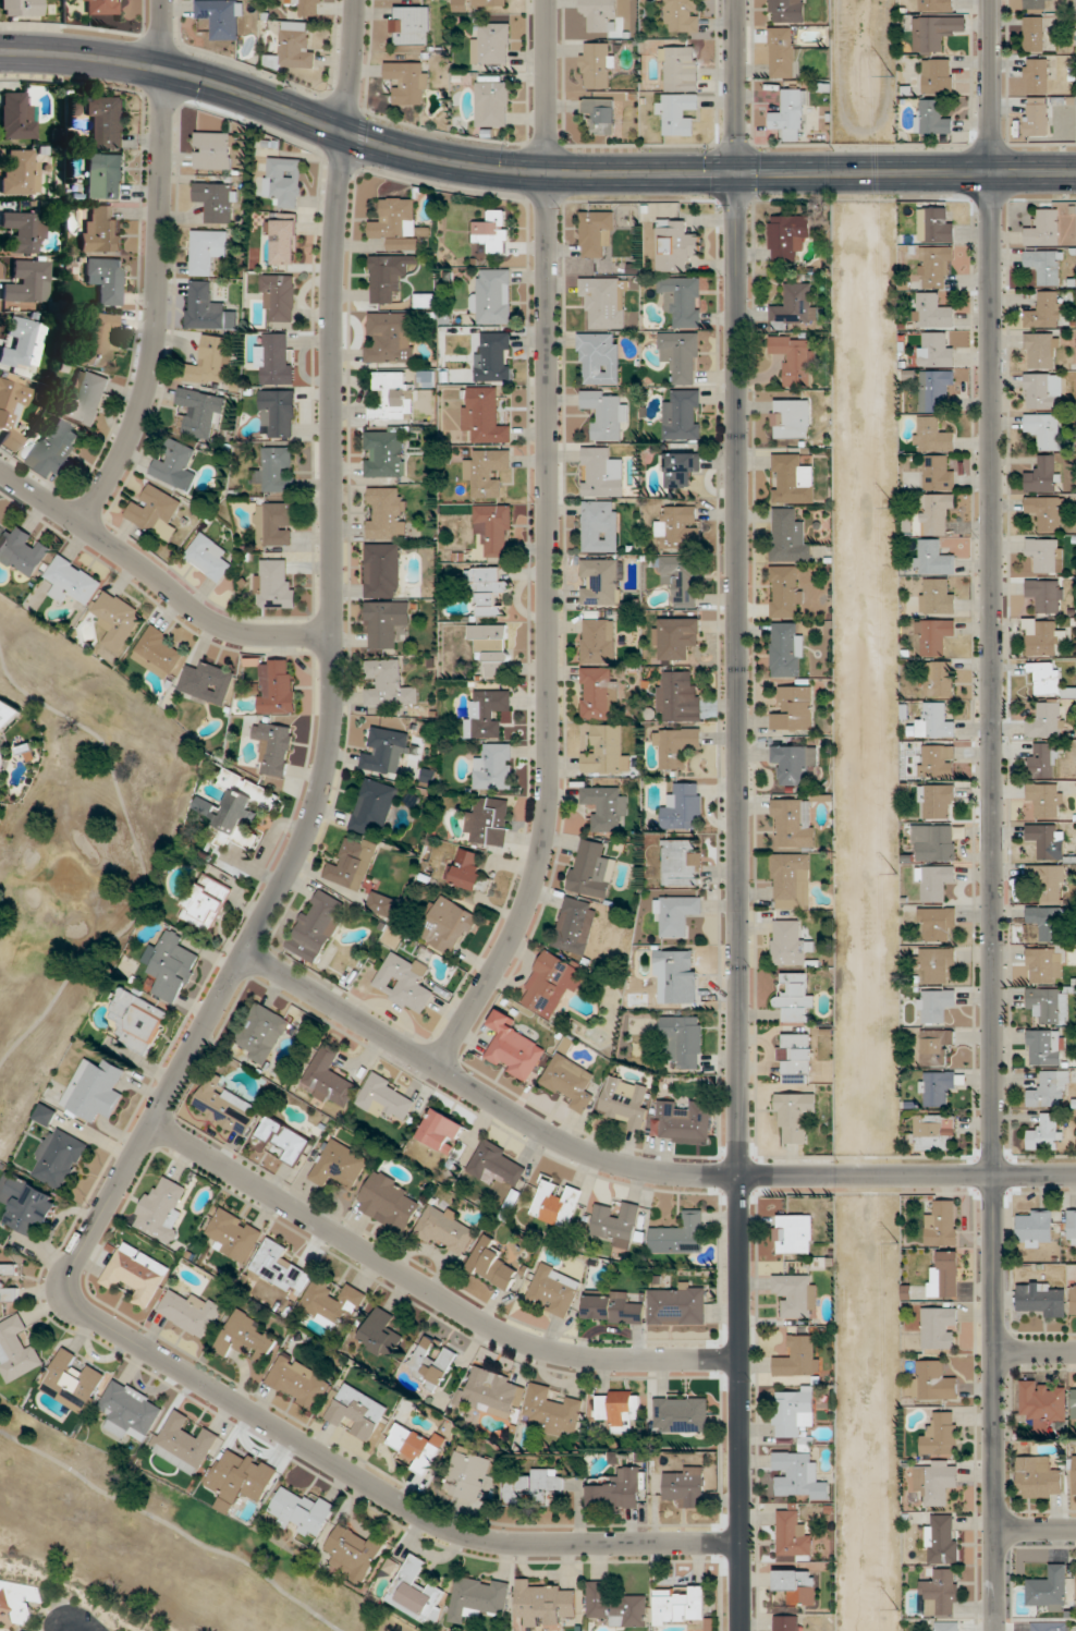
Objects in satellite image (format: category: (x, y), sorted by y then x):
building: (491, 2)
building: (933, 4)
building: (1034, 4)
building: (97, 7)
building: (307, 7)
building: (22, 8)
building: (787, 10)
building: (600, 14)
building: (682, 15)
building: (221, 17)
building: (411, 24)
building: (934, 33)
building: (1034, 33)
building: (491, 44)
building: (293, 47)
building: (782, 51)
building: (598, 64)
building: (681, 66)
building: (938, 75)
building: (1036, 75)
building: (408, 81)
road: (736, 86)
building: (493, 104)
building: (678, 111)
building: (601, 113)
building: (791, 114)
building: (17, 115)
building: (1037, 115)
building: (933, 117)
building: (107, 120)
road: (363, 139)
building: (213, 149)
building: (22, 172)
road: (906, 172)
traffic signals: (737, 173)
building: (106, 175)
building: (283, 181)
building: (217, 200)
building: (398, 223)
building: (937, 223)
building: (1044, 228)
building: (25, 230)
building: (101, 231)
building: (493, 231)
building: (597, 232)
building: (283, 236)
building: (787, 236)
building: (676, 245)
building: (207, 249)
building: (936, 265)
building: (1046, 267)
road: (157, 269)
building: (388, 275)
building: (106, 279)
building: (28, 281)
building: (279, 295)
building: (493, 296)
building: (425, 299)
building: (682, 300)
building: (604, 301)
building: (204, 305)
building: (795, 305)
building: (1046, 309)
building: (933, 311)
building: (389, 337)
building: (99, 339)
building: (21, 343)
building: (936, 349)
building: (1041, 350)
building: (682, 355)
building: (494, 357)
building: (599, 357)
building: (795, 358)
building: (209, 361)
building: (936, 389)
building: (1043, 390)
building: (86, 395)
building: (389, 395)
building: (11, 410)
building: (200, 412)
building: (606, 412)
building: (277, 413)
building: (485, 414)
building: (683, 415)
building: (791, 418)
building: (1043, 429)
building: (933, 434)
building: (54, 449)
building: (384, 452)
building: (175, 464)
building: (681, 467)
building: (276, 468)
building: (488, 471)
building: (601, 472)
building: (939, 473)
building: (1043, 474)
building: (793, 478)
building: (156, 510)
building: (936, 512)
building: (387, 513)
building: (1047, 513)
building: (274, 523)
building: (600, 525)
building: (0, 526)
building: (678, 526)
building: (494, 527)
building: (787, 535)
road: (548, 546)
building: (23, 551)
building: (1046, 553)
building: (208, 557)
building: (933, 557)
building: (382, 570)
building: (681, 577)
road: (156, 580)
building: (72, 581)
building: (600, 581)
building: (273, 585)
building: (488, 589)
building: (785, 589)
building: (1047, 594)
building: (937, 596)
building: (117, 619)
building: (386, 623)
building: (933, 635)
building: (677, 636)
building: (1044, 637)
building: (598, 641)
building: (492, 648)
building: (787, 648)
building: (159, 650)
building: (1047, 677)
building: (939, 678)
building: (207, 682)
building: (388, 683)
building: (277, 685)
building: (598, 693)
building: (677, 696)
building: (794, 708)
building: (488, 713)
building: (1047, 719)
building: (936, 721)
building: (2, 746)
building: (274, 746)
building: (675, 746)
building: (384, 750)
building: (606, 751)
building: (1043, 758)
building: (937, 759)
building: (794, 762)
building: (494, 766)
building: (1046, 799)
building: (938, 801)
building: (374, 806)
building: (604, 806)
building: (684, 806)
building: (240, 808)
road: (992, 815)
building: (490, 820)
building: (794, 820)
building: (1049, 840)
building: (936, 842)
park: (76, 845)
road: (138, 860)
building: (682, 862)
building: (353, 863)
building: (591, 868)
building: (467, 869)
building: (791, 880)
building: (934, 881)
building: (1050, 881)
building: (205, 902)
road: (739, 902)
building: (676, 914)
building: (1049, 922)
building: (937, 923)
building: (447, 924)
building: (317, 925)
building: (575, 925)
building: (788, 941)
building: (938, 964)
building: (1044, 964)
building: (170, 966)
building: (678, 972)
building: (404, 982)
building: (551, 984)
building: (795, 997)
building: (1049, 1003)
building: (937, 1005)
building: (137, 1020)
road: (206, 1020)
building: (261, 1033)
building: (683, 1040)
building: (937, 1046)
building: (1046, 1046)
building: (513, 1047)
building: (796, 1057)
building: (328, 1076)
building: (570, 1082)
building: (940, 1086)
building: (1049, 1088)
building: (95, 1090)
building: (386, 1097)
building: (626, 1100)
building: (224, 1106)
building: (795, 1113)
building: (683, 1119)
building: (442, 1130)
building: (936, 1131)
building: (1047, 1132)
building: (284, 1139)
building: (58, 1158)
building: (338, 1164)
building: (494, 1164)
road: (633, 1167)
building: (388, 1201)
building: (27, 1203)
building: (555, 1203)
building: (161, 1209)
building: (616, 1222)
building: (942, 1224)
building: (1035, 1226)
building: (1072, 1226)
building: (444, 1230)
building: (793, 1233)
building: (233, 1234)
building: (680, 1234)
building: (492, 1264)
building: (277, 1265)
building: (946, 1273)
building: (136, 1274)
building: (2, 1280)
building: (554, 1289)
road: (430, 1292)
building: (797, 1294)
building: (1074, 1298)
building: (1040, 1299)
building: (330, 1302)
building: (678, 1304)
building: (612, 1306)
building: (191, 1312)
building: (940, 1327)
building: (381, 1332)
building: (246, 1338)
building: (17, 1349)
road: (1035, 1351)
building: (798, 1356)
building: (431, 1363)
building: (74, 1377)
building: (933, 1380)
building: (298, 1382)
building: (493, 1393)
building: (1042, 1402)
building: (1074, 1402)
building: (131, 1409)
building: (619, 1409)
building: (552, 1410)
building: (357, 1412)
building: (793, 1412)
building: (681, 1413)
building: (942, 1434)
building: (184, 1443)
building: (416, 1446)
building: (1075, 1471)
building: (467, 1473)
building: (245, 1475)
building: (798, 1476)
building: (1039, 1477)
building: (937, 1480)
building: (685, 1486)
building: (533, 1487)
building: (618, 1490)
building: (302, 1512)
road: (173, 1526)
road: (1035, 1527)
building: (793, 1536)
building: (942, 1538)
park: (154, 1542)
building: (354, 1554)
building: (797, 1585)
building: (1049, 1589)
building: (416, 1591)
building: (942, 1592)
building: (478, 1597)
building: (545, 1603)
building: (618, 1605)
building: (681, 1605)
building: (787, 1622)
building: (949, 1626)
building: (1049, 1626)
road: (63, 1630)

